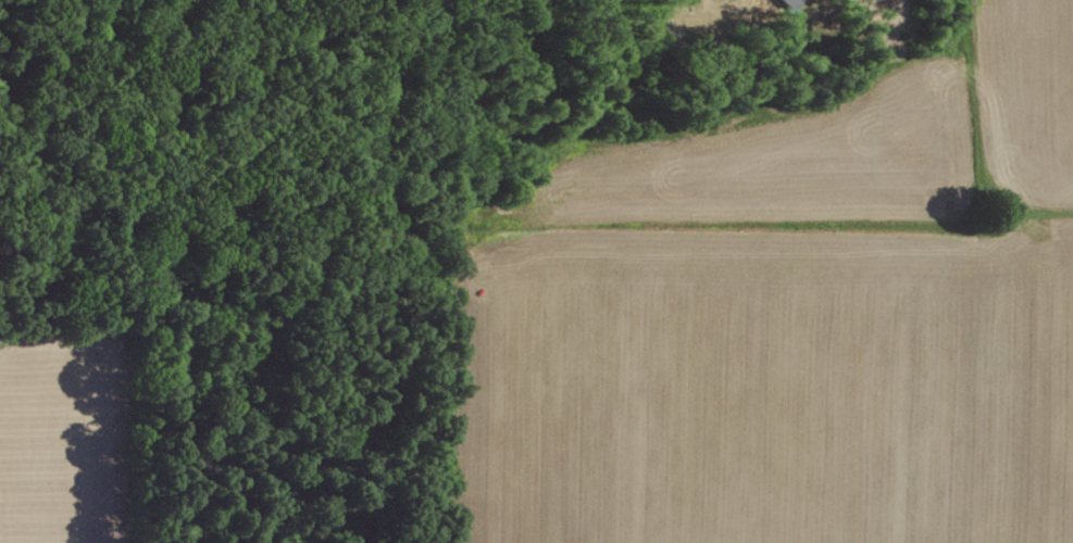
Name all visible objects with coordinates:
building: (789, 3)

